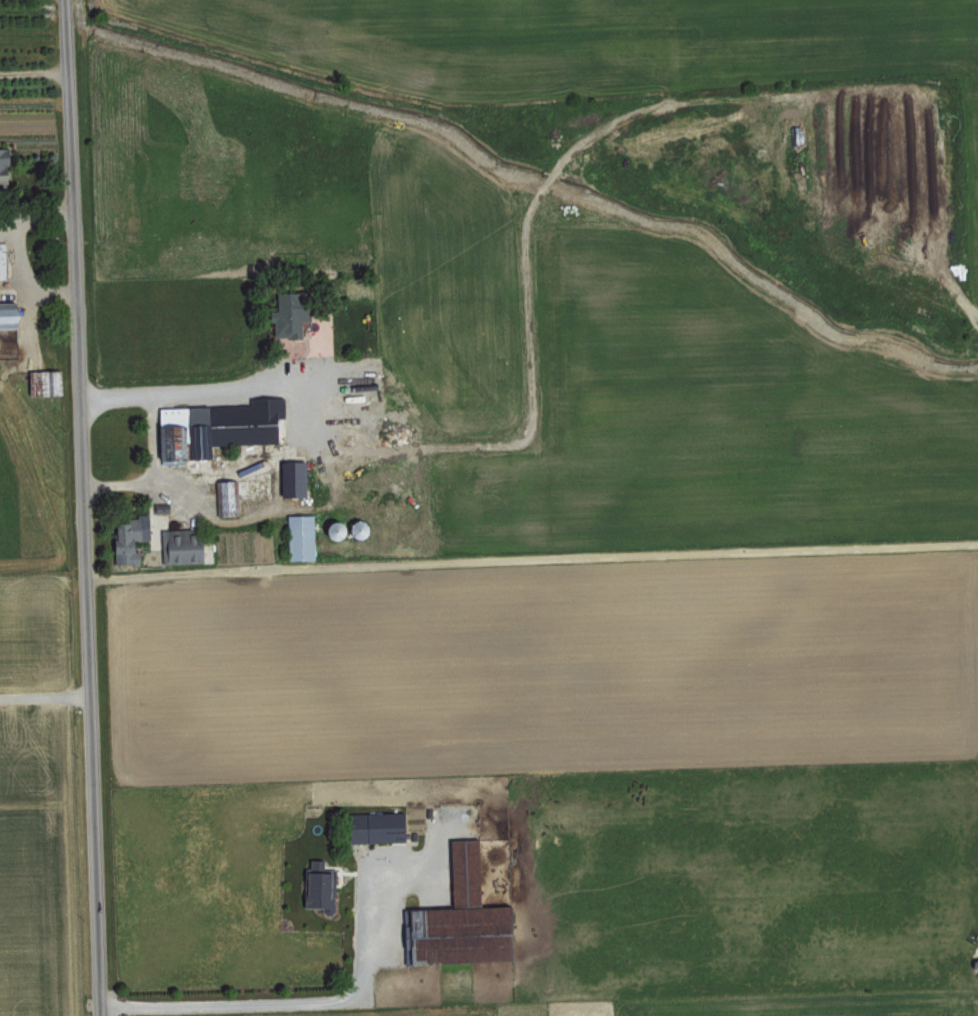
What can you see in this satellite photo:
road: (34, 71)
building: (1, 165)
road: (37, 216)
building: (2, 260)
road: (27, 277)
building: (8, 314)
building: (287, 314)
building: (44, 381)
road: (187, 394)
building: (216, 425)
road: (151, 468)
building: (291, 477)
building: (223, 497)
road: (88, 507)
building: (299, 536)
building: (128, 537)
building: (179, 545)
road: (46, 695)
building: (375, 827)
building: (318, 886)
building: (460, 917)
road: (287, 1001)

